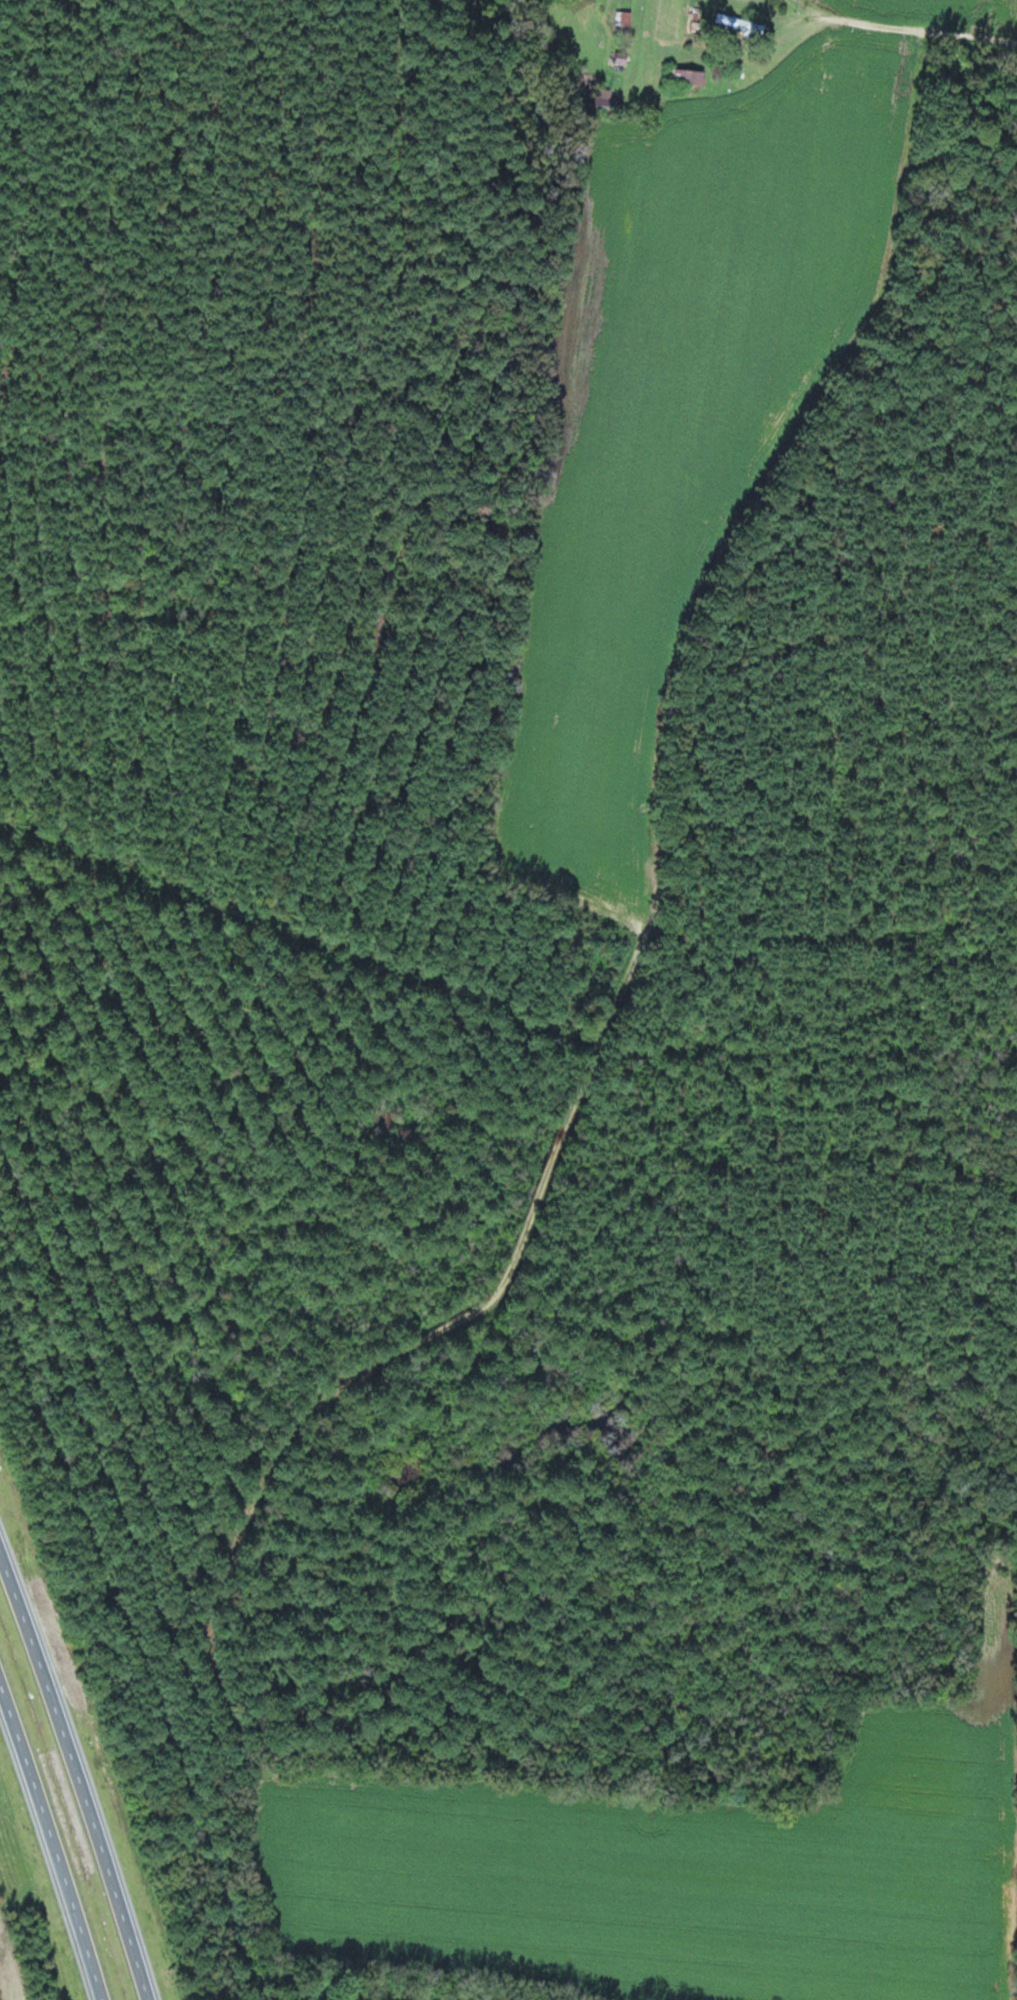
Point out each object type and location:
building: (741, 25)
road: (909, 30)
building: (694, 76)
road: (81, 1779)
road: (53, 1840)

